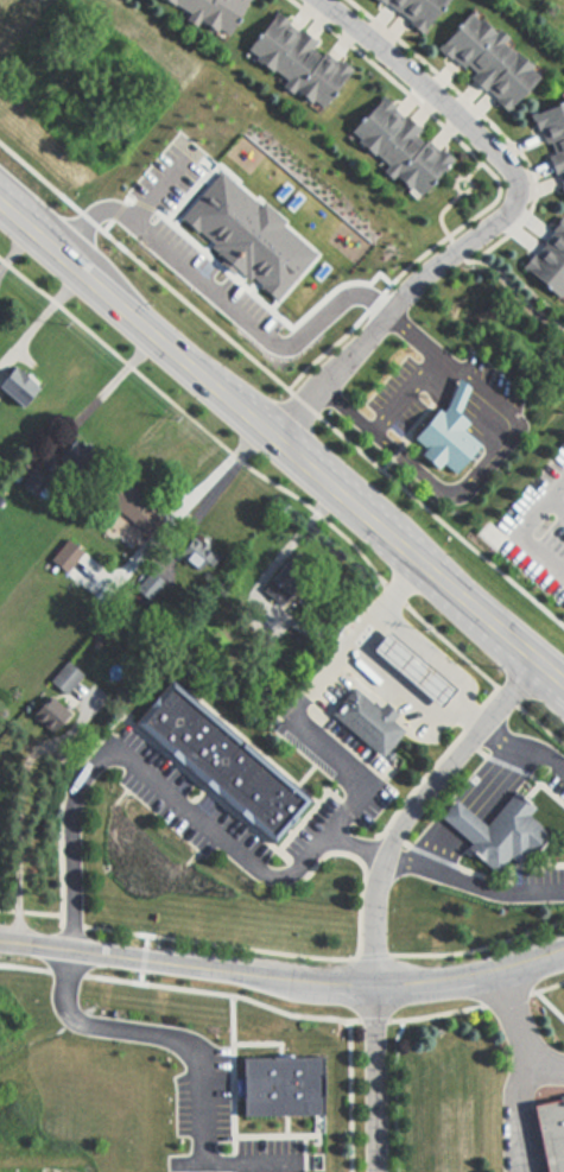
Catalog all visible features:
building: (410, 11)
building: (208, 12)
building: (291, 59)
building: (483, 61)
road: (488, 122)
building: (551, 140)
building: (394, 147)
road: (454, 198)
road: (498, 218)
road: (457, 249)
building: (546, 261)
road: (515, 292)
road: (45, 313)
road: (359, 321)
road: (412, 335)
parking lot: (496, 381)
road: (110, 389)
building: (17, 391)
road: (406, 395)
building: (458, 395)
parking lot: (395, 398)
road: (302, 405)
building: (446, 438)
road: (284, 439)
road: (264, 479)
road: (214, 480)
road: (464, 494)
road: (557, 505)
road: (441, 524)
road: (521, 531)
road: (294, 536)
building: (192, 555)
road: (401, 585)
road: (429, 657)
building: (430, 661)
building: (405, 669)
road: (388, 678)
parking lot: (380, 689)
road: (473, 718)
building: (368, 722)
road: (540, 727)
road: (304, 731)
road: (521, 752)
building: (221, 762)
parking lot: (204, 807)
road: (412, 807)
road: (58, 810)
road: (470, 810)
building: (464, 823)
building: (511, 834)
road: (71, 843)
road: (229, 845)
road: (355, 845)
road: (17, 847)
road: (473, 883)
road: (28, 912)
road: (71, 924)
road: (480, 949)
road: (299, 955)
road: (373, 955)
road: (24, 968)
road: (64, 973)
road: (283, 981)
road: (545, 987)
road: (220, 994)
road: (503, 999)
road: (550, 1006)
road: (433, 1014)
road: (372, 1020)
road: (103, 1026)
road: (517, 1028)
parking lot: (522, 1034)
road: (259, 1044)
road: (370, 1077)
building: (279, 1083)
road: (347, 1096)
parking lot: (202, 1097)
road: (230, 1104)
road: (519, 1111)
road: (284, 1123)
building: (550, 1132)
parking lot: (266, 1155)
road: (198, 1160)

